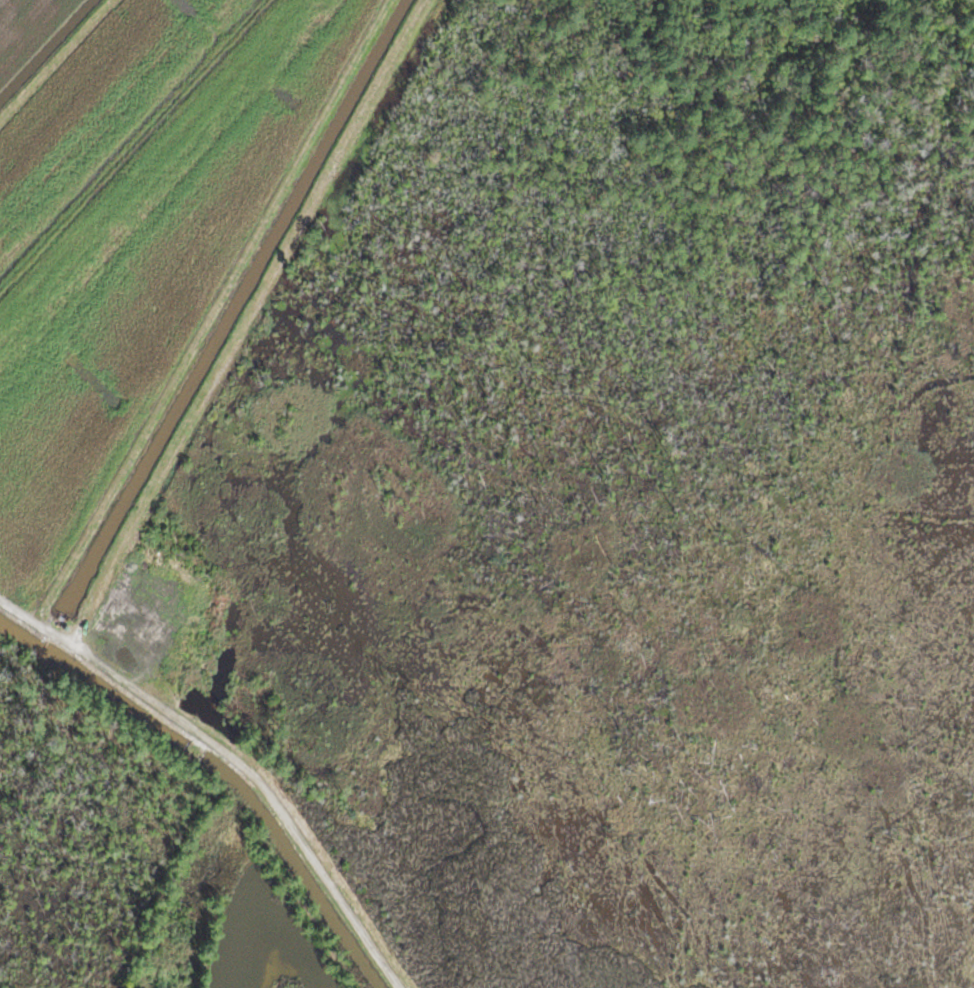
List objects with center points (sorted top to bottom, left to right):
road: (89, 945)

